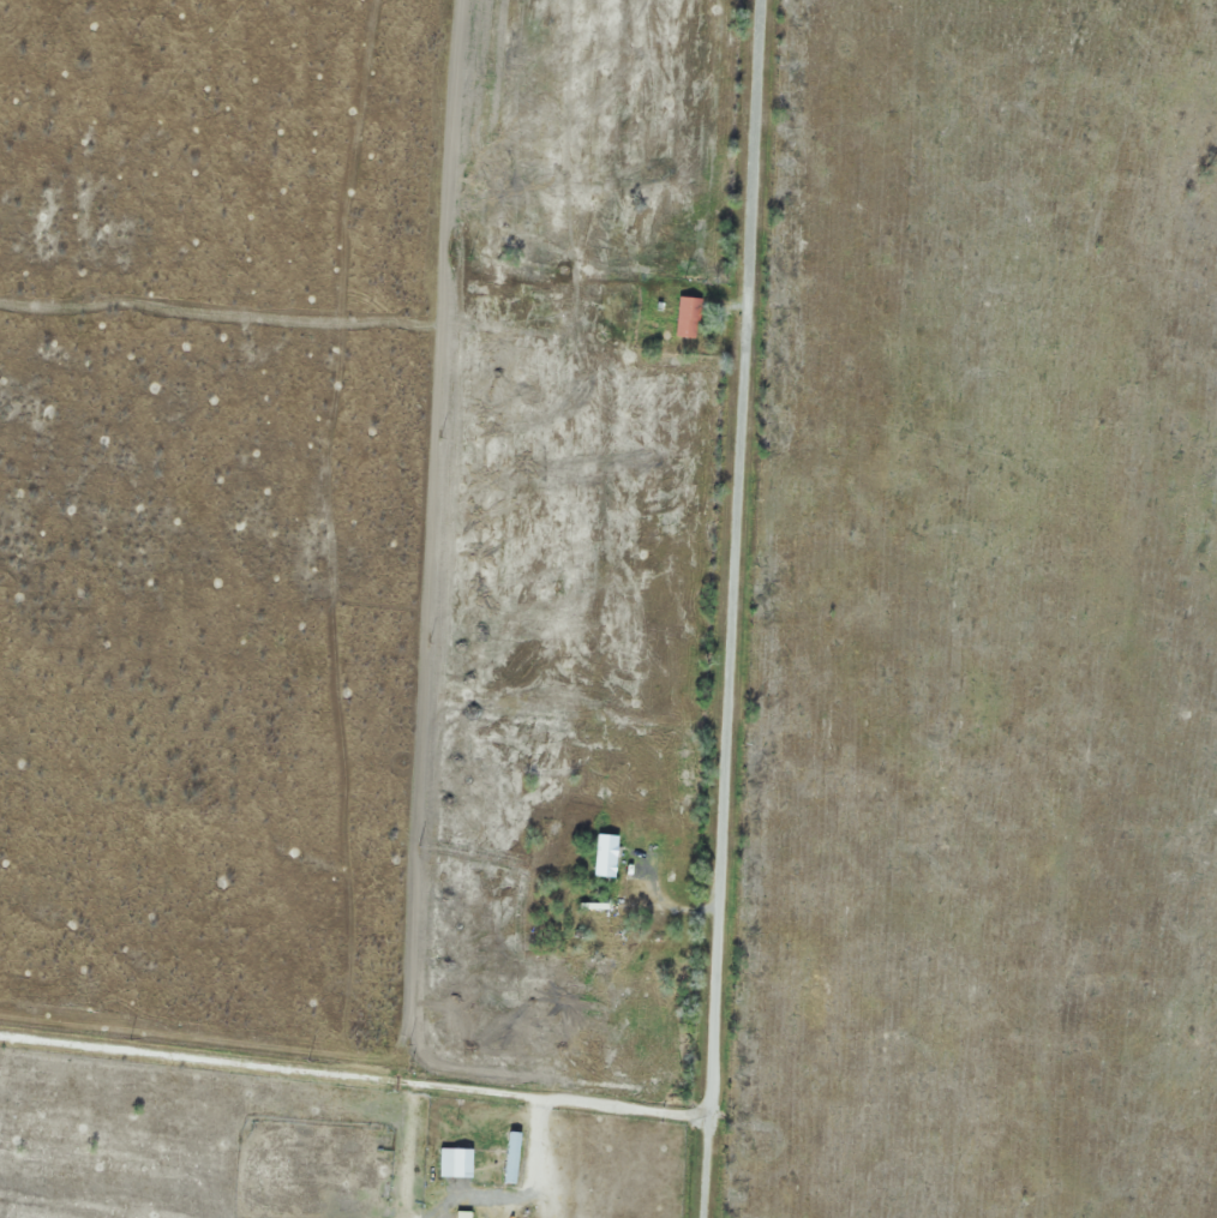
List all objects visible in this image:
building: (684, 317)
road: (730, 608)
building: (601, 854)
road: (665, 901)
building: (508, 1157)

